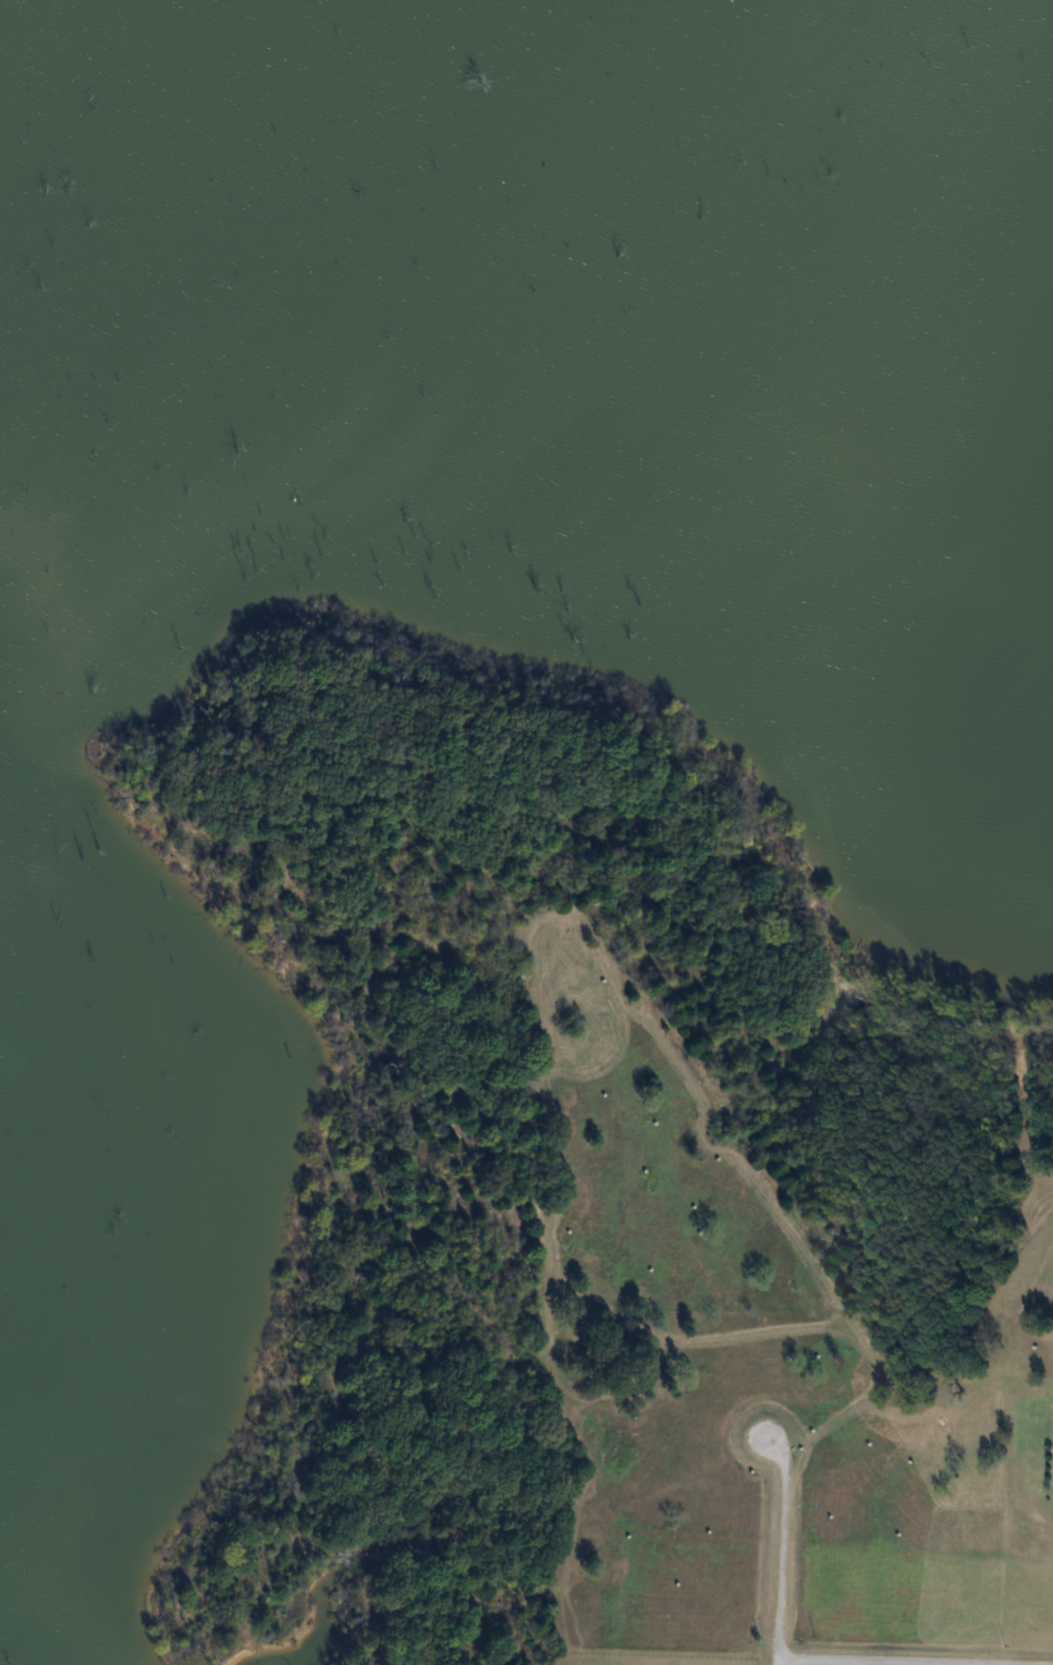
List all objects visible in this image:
road: (781, 1546)
road: (860, 1662)
road: (864, 1664)

